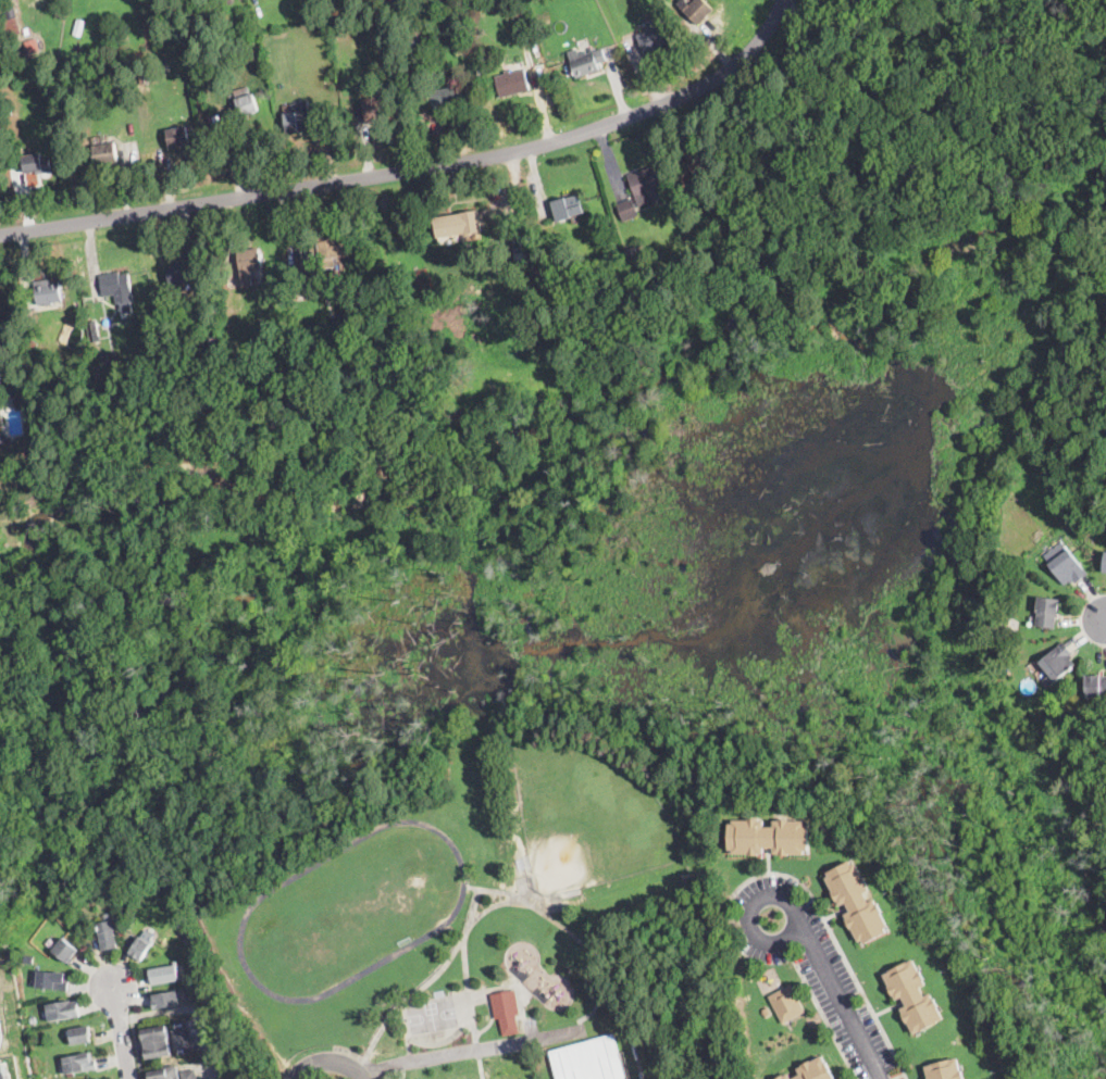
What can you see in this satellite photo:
building: (361, 4)
building: (696, 10)
building: (477, 14)
road: (830, 20)
building: (11, 21)
building: (527, 27)
building: (78, 30)
building: (653, 39)
building: (17, 40)
building: (587, 61)
building: (151, 78)
building: (512, 83)
building: (99, 84)
building: (123, 85)
road: (537, 90)
building: (447, 99)
building: (245, 103)
building: (376, 109)
building: (298, 122)
building: (183, 138)
building: (107, 154)
building: (695, 159)
building: (37, 164)
road: (412, 165)
building: (744, 183)
building: (645, 184)
building: (569, 208)
building: (627, 210)
building: (458, 224)
building: (684, 239)
building: (332, 248)
building: (634, 250)
building: (250, 264)
building: (185, 273)
building: (307, 275)
building: (609, 276)
building: (117, 286)
building: (48, 293)
building: (599, 294)
building: (347, 302)
building: (538, 310)
building: (219, 322)
building: (277, 326)
building: (95, 327)
building: (188, 342)
building: (114, 356)
building: (2, 361)
building: (30, 434)
building: (3, 438)
building: (1073, 524)
building: (1090, 536)
building: (1104, 564)
building: (1068, 567)
building: (1047, 612)
road: (1105, 624)
building: (1057, 662)
building: (1095, 686)
park: (586, 816)
building: (769, 837)
building: (527, 862)
building: (575, 893)
building: (857, 902)
road: (473, 905)
road: (749, 911)
building: (124, 913)
building: (171, 929)
building: (110, 933)
road: (836, 942)
building: (141, 948)
road: (586, 948)
building: (66, 951)
building: (29, 957)
road: (465, 962)
building: (163, 975)
building: (53, 980)
road: (427, 981)
building: (914, 996)
building: (166, 1000)
building: (787, 1004)
road: (845, 1004)
building: (63, 1009)
road: (191, 1011)
building: (507, 1011)
building: (767, 1012)
road: (824, 1019)
building: (34, 1020)
road: (2, 1029)
road: (121, 1030)
building: (80, 1034)
building: (181, 1037)
building: (158, 1041)
road: (136, 1047)
road: (469, 1052)
building: (589, 1058)
building: (80, 1063)
road: (328, 1064)
building: (816, 1069)
building: (945, 1069)
building: (5, 1070)
building: (166, 1072)
building: (189, 1075)
building: (785, 1077)
building: (97, 1078)

